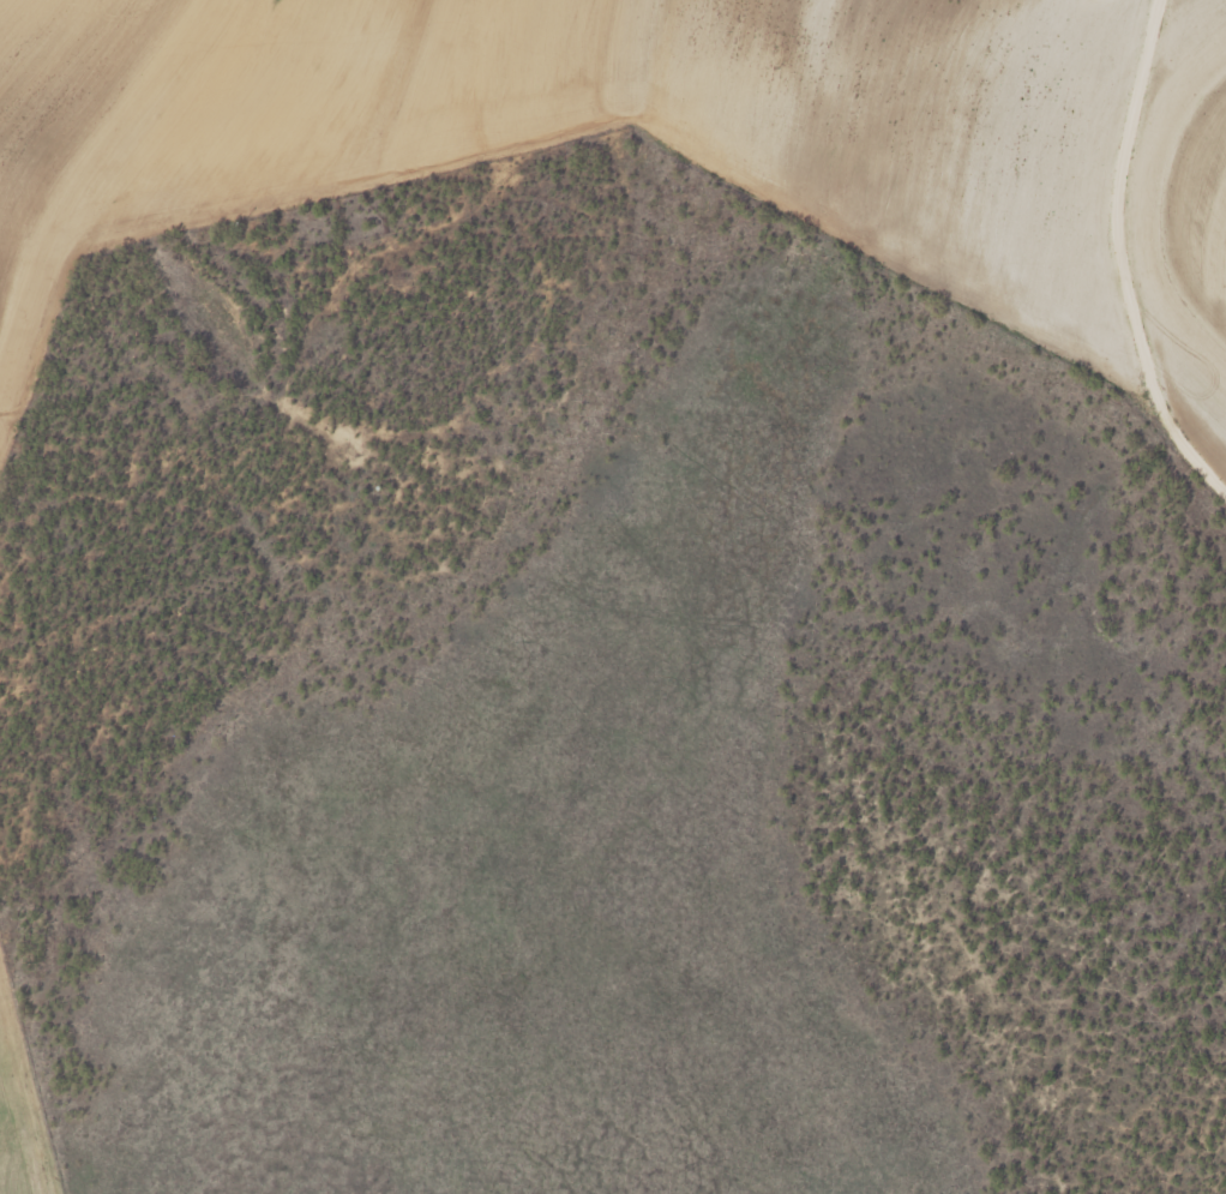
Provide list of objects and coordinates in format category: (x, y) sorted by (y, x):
road: (1120, 257)

